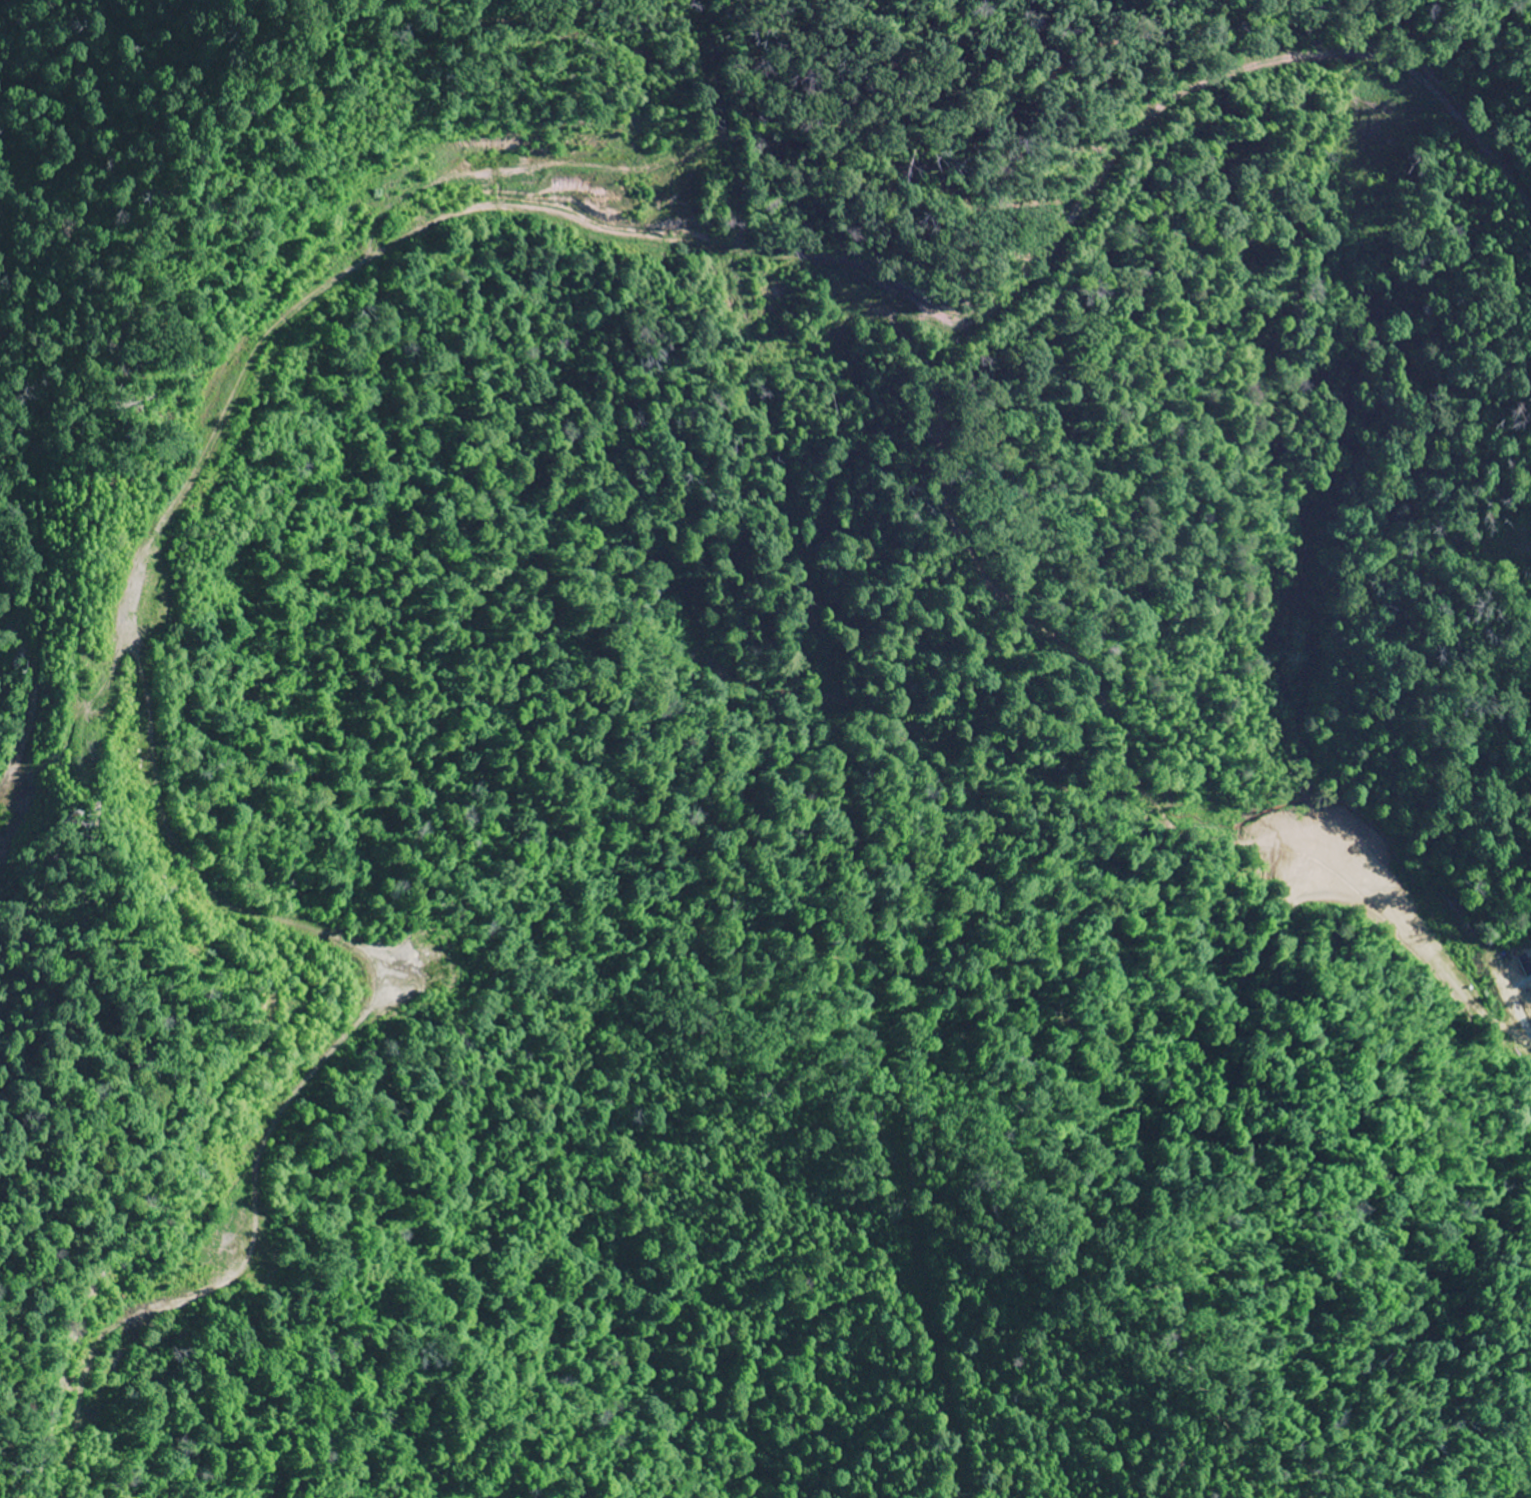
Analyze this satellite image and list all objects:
road: (1523, 1019)

